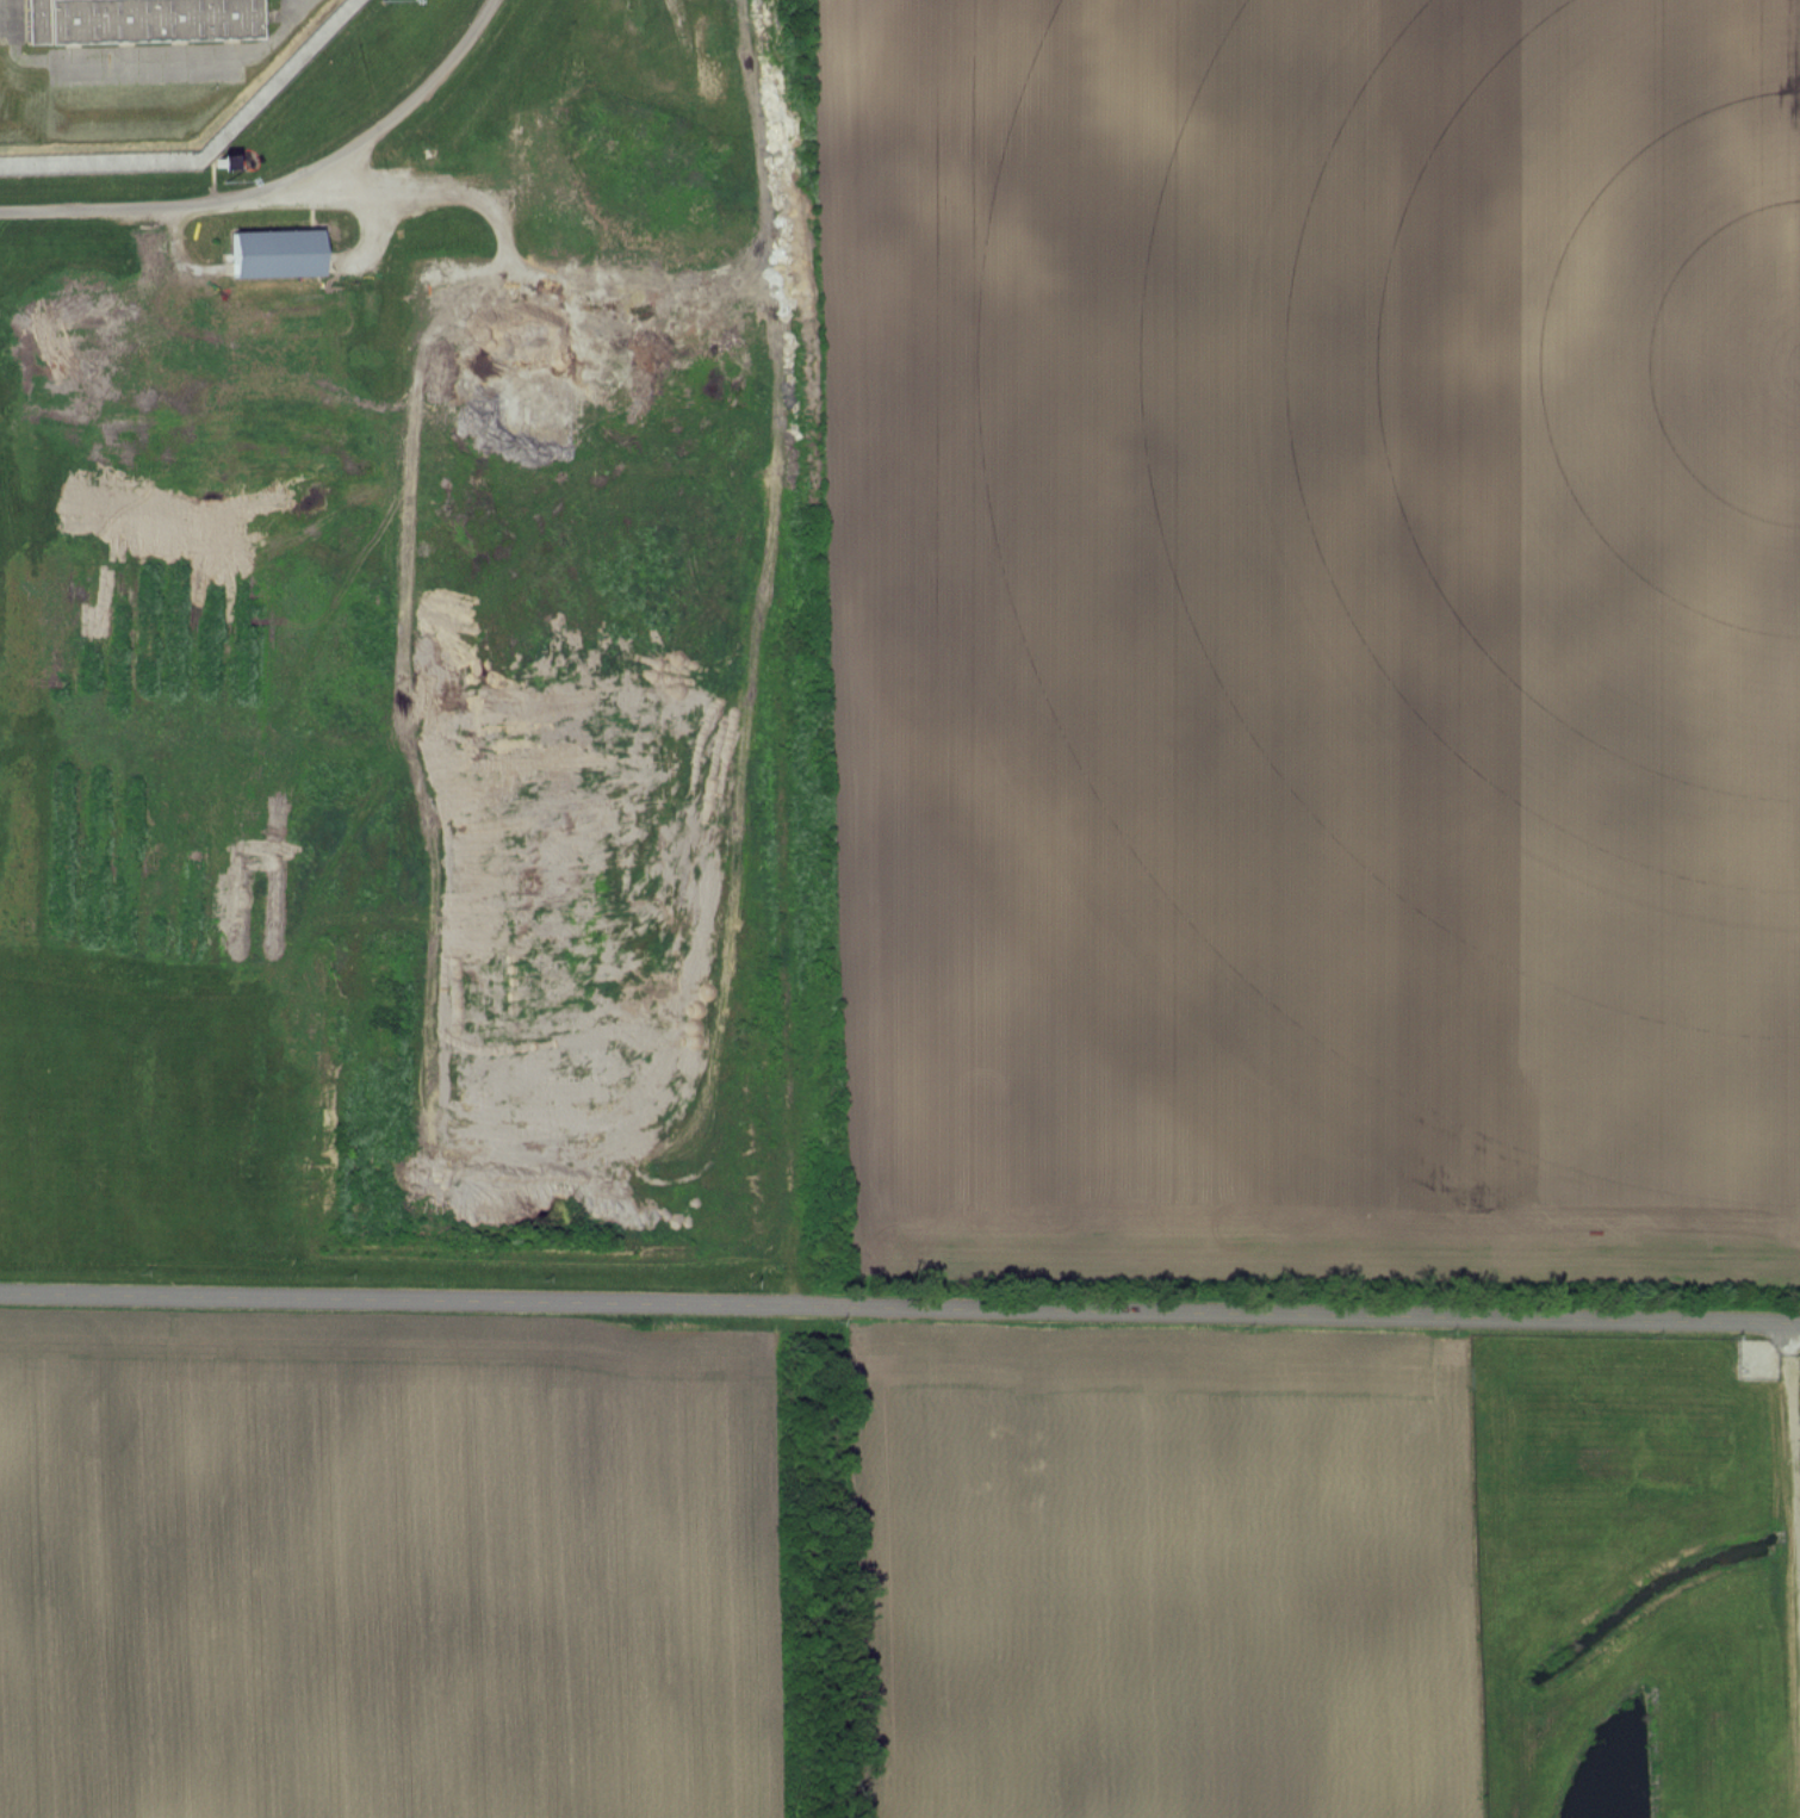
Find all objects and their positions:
building: (142, 21)
road: (286, 184)
road: (366, 193)
building: (278, 255)
road: (900, 1309)
road: (1793, 1479)

